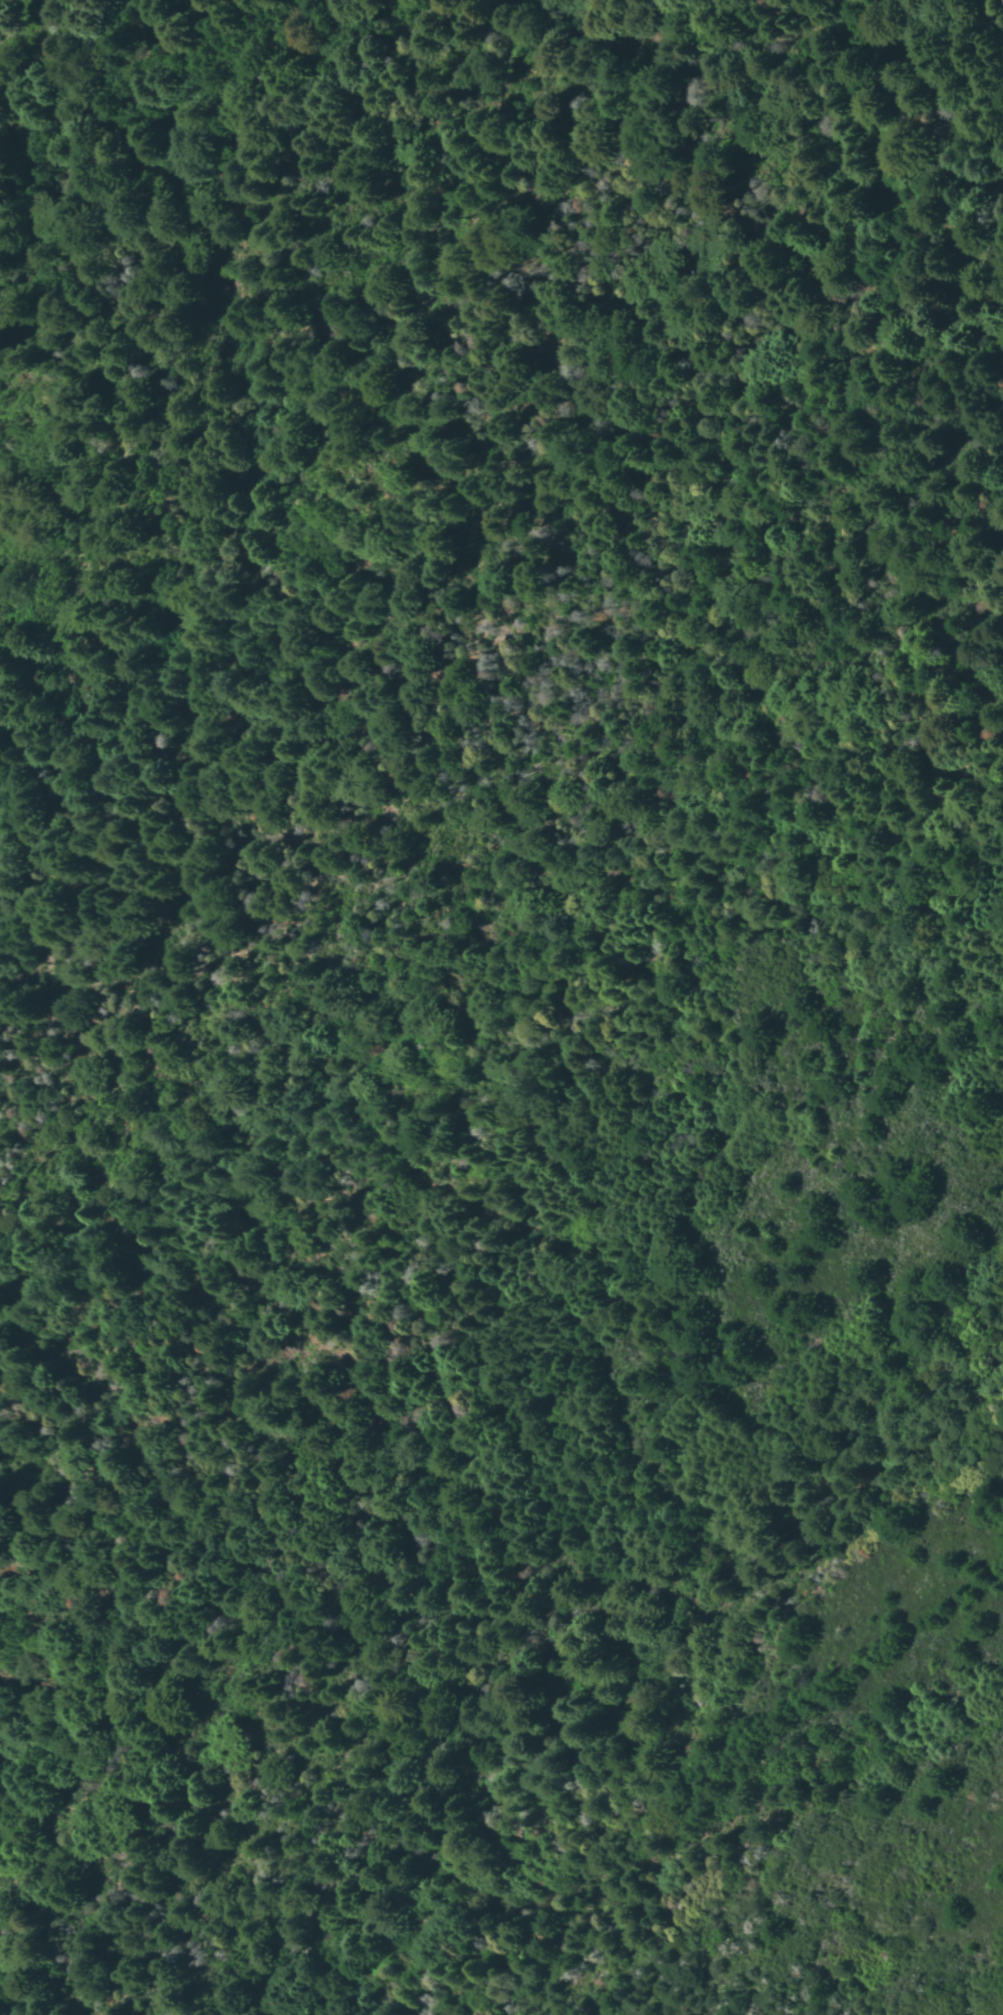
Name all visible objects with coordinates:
road: (889, 178)

